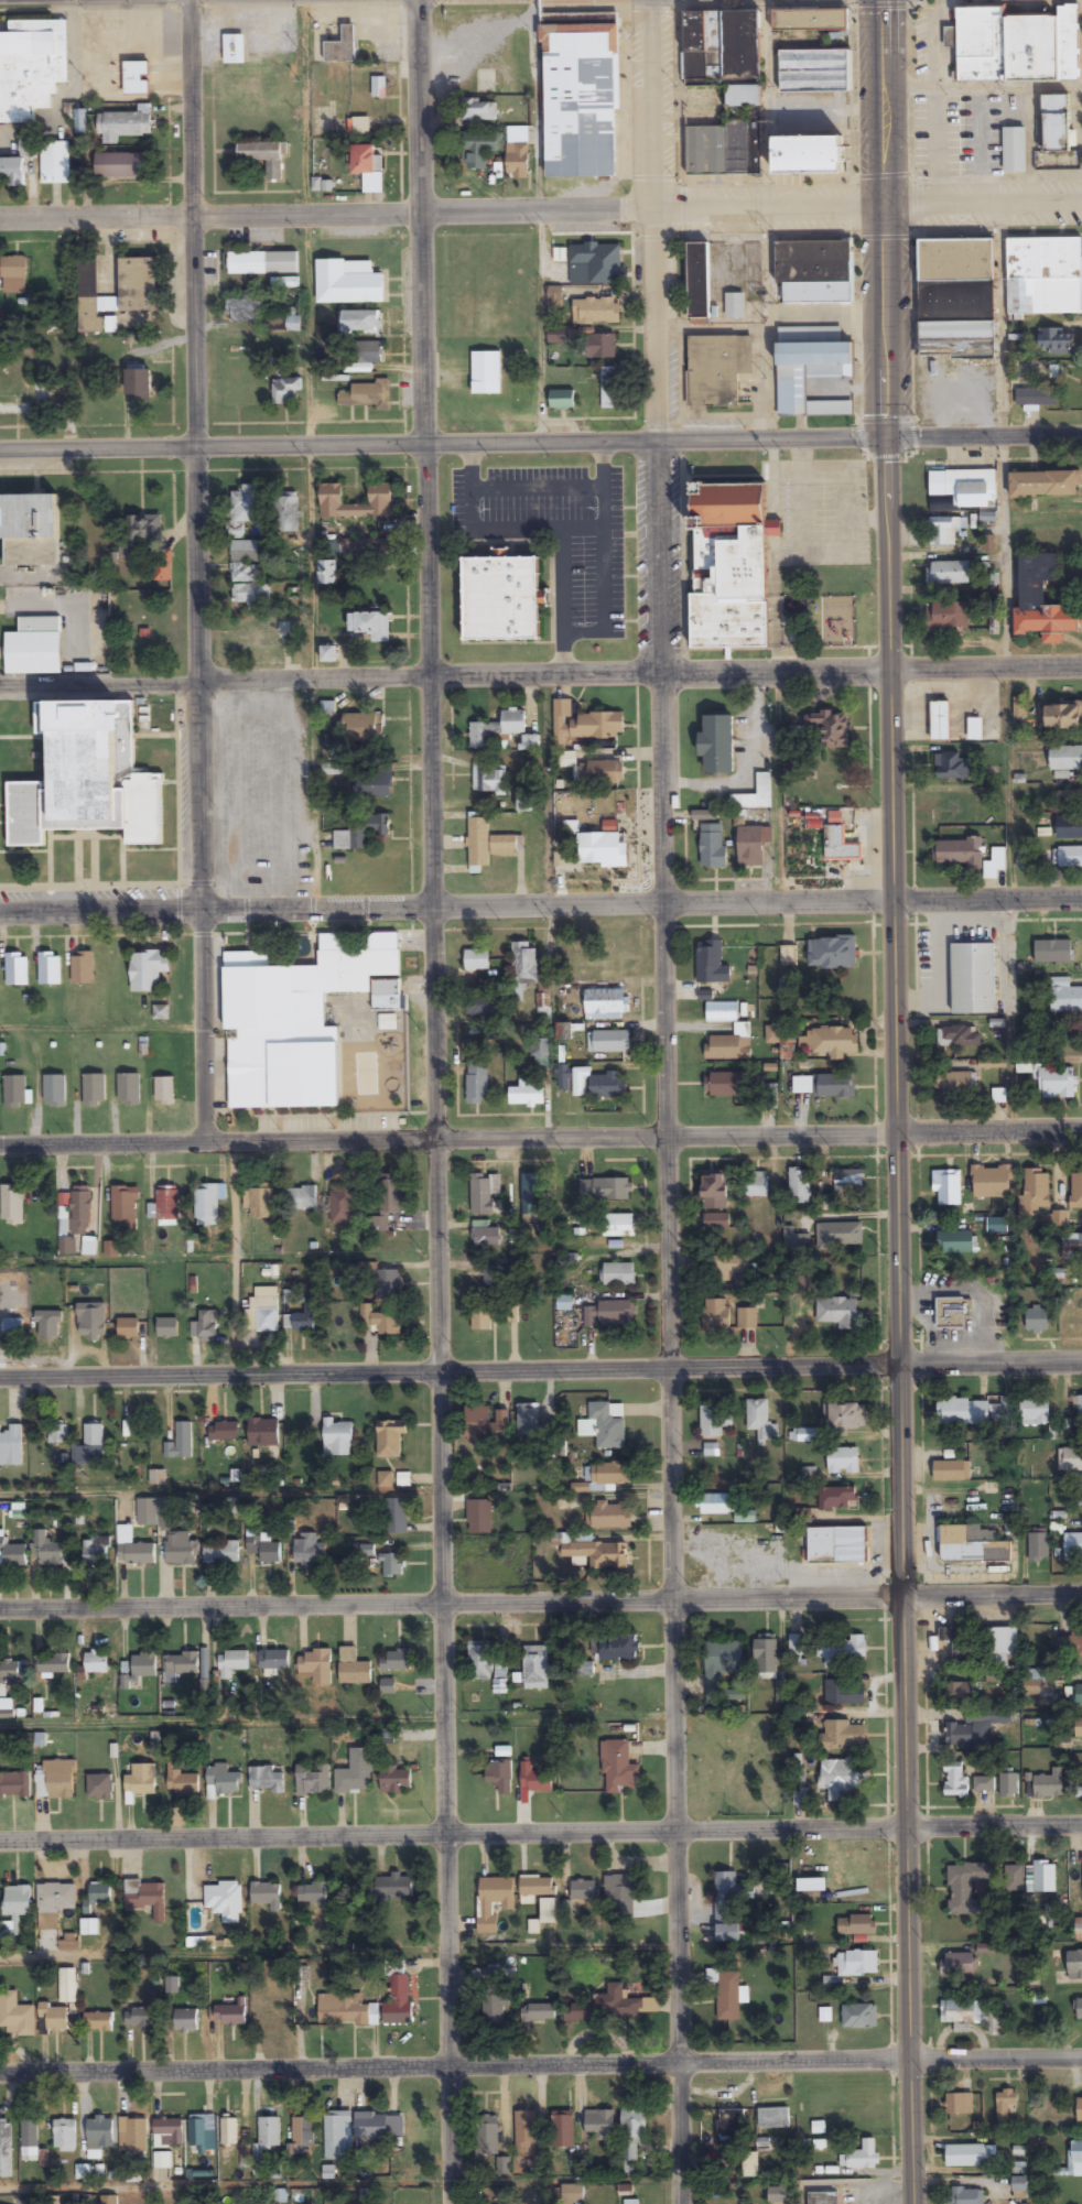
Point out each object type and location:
building: (1016, 44)
building: (342, 47)
building: (810, 51)
building: (724, 54)
building: (31, 67)
building: (136, 78)
building: (581, 102)
building: (479, 111)
building: (80, 121)
building: (127, 123)
building: (1056, 124)
building: (479, 150)
building: (725, 150)
building: (1014, 151)
building: (808, 156)
building: (263, 158)
building: (365, 161)
building: (518, 162)
building: (55, 163)
building: (17, 166)
building: (120, 166)
road: (540, 200)
building: (598, 262)
building: (262, 264)
building: (814, 272)
building: (13, 275)
building: (1043, 278)
building: (348, 283)
building: (699, 283)
building: (137, 285)
building: (956, 300)
building: (735, 306)
building: (245, 310)
building: (596, 312)
building: (94, 318)
building: (361, 323)
building: (1056, 341)
building: (597, 347)
building: (368, 354)
building: (718, 372)
building: (486, 373)
building: (814, 373)
building: (138, 386)
building: (612, 389)
building: (286, 391)
building: (1043, 392)
building: (367, 397)
building: (561, 401)
road: (540, 442)
road: (113, 471)
building: (1045, 486)
building: (965, 487)
building: (332, 496)
building: (245, 511)
building: (286, 513)
building: (144, 529)
building: (31, 530)
building: (944, 533)
building: (248, 563)
building: (163, 566)
building: (729, 567)
road: (193, 571)
building: (949, 573)
building: (327, 574)
building: (251, 595)
building: (501, 600)
building: (1042, 602)
building: (949, 617)
building: (371, 627)
building: (261, 636)
building: (34, 648)
building: (328, 655)
road: (540, 677)
building: (1063, 715)
building: (940, 720)
building: (584, 724)
building: (830, 727)
building: (359, 728)
building: (975, 728)
building: (504, 731)
building: (717, 743)
building: (1065, 758)
building: (564, 760)
building: (951, 766)
building: (605, 772)
building: (87, 778)
building: (489, 779)
building: (374, 786)
building: (834, 790)
building: (755, 795)
building: (1069, 799)
building: (524, 803)
building: (956, 808)
building: (1069, 827)
building: (360, 832)
building: (840, 839)
building: (477, 843)
building: (506, 845)
building: (750, 847)
building: (604, 849)
building: (713, 850)
building: (960, 853)
building: (1070, 857)
building: (996, 864)
road: (540, 904)
building: (832, 953)
building: (477, 960)
building: (712, 964)
building: (50, 968)
building: (82, 968)
building: (522, 968)
building: (17, 969)
building: (148, 970)
building: (973, 979)
building: (1064, 997)
building: (606, 1001)
building: (480, 1006)
building: (296, 1027)
building: (959, 1036)
building: (609, 1041)
building: (829, 1042)
building: (729, 1045)
building: (541, 1054)
building: (477, 1083)
building: (1058, 1083)
building: (729, 1084)
building: (956, 1084)
building: (597, 1085)
building: (802, 1085)
building: (835, 1086)
building: (129, 1089)
building: (54, 1090)
building: (94, 1090)
building: (14, 1092)
building: (164, 1092)
building: (528, 1092)
road: (439, 1101)
road: (668, 1101)
road: (896, 1101)
road: (541, 1137)
building: (848, 1181)
building: (991, 1181)
building: (756, 1185)
building: (799, 1185)
building: (948, 1187)
building: (605, 1190)
building: (715, 1191)
building: (1036, 1191)
building: (1075, 1191)
building: (482, 1194)
building: (532, 1194)
building: (302, 1198)
building: (261, 1202)
building: (387, 1203)
building: (12, 1204)
building: (206, 1205)
building: (342, 1205)
building: (123, 1206)
building: (165, 1207)
building: (80, 1210)
building: (715, 1220)
building: (618, 1225)
building: (486, 1235)
building: (840, 1236)
building: (796, 1241)
building: (955, 1242)
building: (67, 1246)
building: (1072, 1247)
building: (724, 1268)
building: (619, 1274)
building: (495, 1277)
building: (388, 1283)
building: (564, 1303)
building: (837, 1312)
building: (952, 1313)
building: (610, 1314)
building: (264, 1315)
building: (715, 1315)
building: (486, 1318)
building: (747, 1318)
building: (305, 1320)
building: (1036, 1320)
building: (90, 1321)
building: (381, 1323)
building: (48, 1325)
building: (205, 1326)
building: (12, 1328)
building: (128, 1328)
building: (167, 1328)
road: (541, 1367)
building: (1076, 1408)
building: (1035, 1411)
building: (976, 1412)
building: (847, 1415)
building: (528, 1420)
building: (715, 1420)
building: (761, 1421)
building: (486, 1422)
building: (603, 1426)
building: (57, 1432)
building: (225, 1432)
building: (263, 1432)
building: (808, 1435)
building: (337, 1438)
building: (390, 1438)
building: (180, 1443)
building: (11, 1445)
building: (90, 1446)
building: (1070, 1459)
building: (843, 1461)
building: (951, 1472)
building: (610, 1474)
building: (581, 1488)
road: (221, 1492)
building: (1076, 1496)
building: (837, 1498)
building: (716, 1503)
building: (145, 1512)
building: (610, 1516)
building: (396, 1517)
building: (745, 1517)
building: (479, 1518)
building: (836, 1545)
building: (971, 1545)
building: (1072, 1546)
building: (1039, 1548)
building: (183, 1550)
building: (266, 1550)
building: (310, 1550)
building: (47, 1551)
building: (368, 1551)
building: (96, 1552)
building: (13, 1553)
building: (221, 1553)
building: (137, 1554)
building: (597, 1554)
building: (392, 1566)
road: (541, 1598)
building: (1040, 1636)
building: (1075, 1641)
building: (959, 1643)
building: (1002, 1647)
building: (618, 1648)
building: (798, 1648)
building: (841, 1650)
building: (766, 1657)
building: (273, 1660)
building: (394, 1661)
building: (479, 1661)
building: (96, 1663)
building: (232, 1663)
building: (53, 1664)
building: (182, 1664)
building: (721, 1664)
building: (143, 1666)
building: (315, 1668)
building: (535, 1668)
building: (354, 1669)
building: (585, 1670)
building: (501, 1678)
building: (3, 1690)
building: (845, 1692)
building: (959, 1692)
building: (1076, 1694)
road: (338, 1719)
building: (975, 1728)
building: (844, 1735)
building: (616, 1767)
building: (356, 1773)
building: (499, 1777)
building: (841, 1778)
building: (535, 1779)
building: (954, 1779)
building: (59, 1780)
building: (267, 1780)
building: (313, 1780)
building: (141, 1781)
building: (182, 1781)
building: (226, 1781)
building: (396, 1781)
building: (983, 1784)
building: (1049, 1784)
building: (15, 1785)
building: (1008, 1785)
building: (99, 1788)
road: (541, 1837)
building: (1045, 1877)
building: (1014, 1878)
building: (538, 1887)
building: (966, 1887)
building: (385, 1888)
building: (584, 1890)
building: (266, 1893)
building: (749, 1893)
building: (99, 1894)
building: (312, 1894)
building: (155, 1898)
building: (619, 1898)
building: (18, 1901)
building: (225, 1901)
building: (494, 1902)
building: (54, 1903)
building: (726, 1907)
building: (548, 1910)
building: (856, 1925)
building: (1079, 1929)
road: (228, 1951)
building: (856, 1963)
building: (959, 1964)
building: (1074, 1965)
building: (172, 1986)
building: (727, 1997)
building: (399, 2001)
building: (618, 2005)
building: (493, 2006)
building: (1079, 2009)
building: (322, 2011)
building: (962, 2011)
building: (576, 2012)
building: (538, 2013)
building: (231, 2015)
building: (354, 2015)
building: (15, 2016)
building: (273, 2016)
building: (859, 2016)
building: (53, 2019)
building: (140, 2019)
building: (185, 2020)
building: (98, 2022)
building: (993, 2024)
road: (541, 2064)
building: (1005, 2103)
building: (957, 2104)
building: (1079, 2110)
building: (773, 2117)
building: (599, 2125)
building: (371, 2128)
building: (563, 2129)
building: (524, 2130)
building: (729, 2130)
building: (201, 2131)
building: (269, 2132)
building: (100, 2134)
building: (167, 2134)
building: (488, 2134)
building: (65, 2137)
building: (134, 2137)
building: (337, 2137)
building: (631, 2137)
building: (229, 2138)
building: (301, 2138)
building: (30, 2141)
building: (6, 2151)
building: (863, 2154)
building: (967, 2156)
building: (1075, 2159)
building: (162, 2161)
building: (749, 2162)
road: (231, 2186)
building: (1020, 2187)
building: (573, 2194)
building: (778, 2195)
building: (966, 2195)
building: (823, 2198)
building: (109, 2201)

